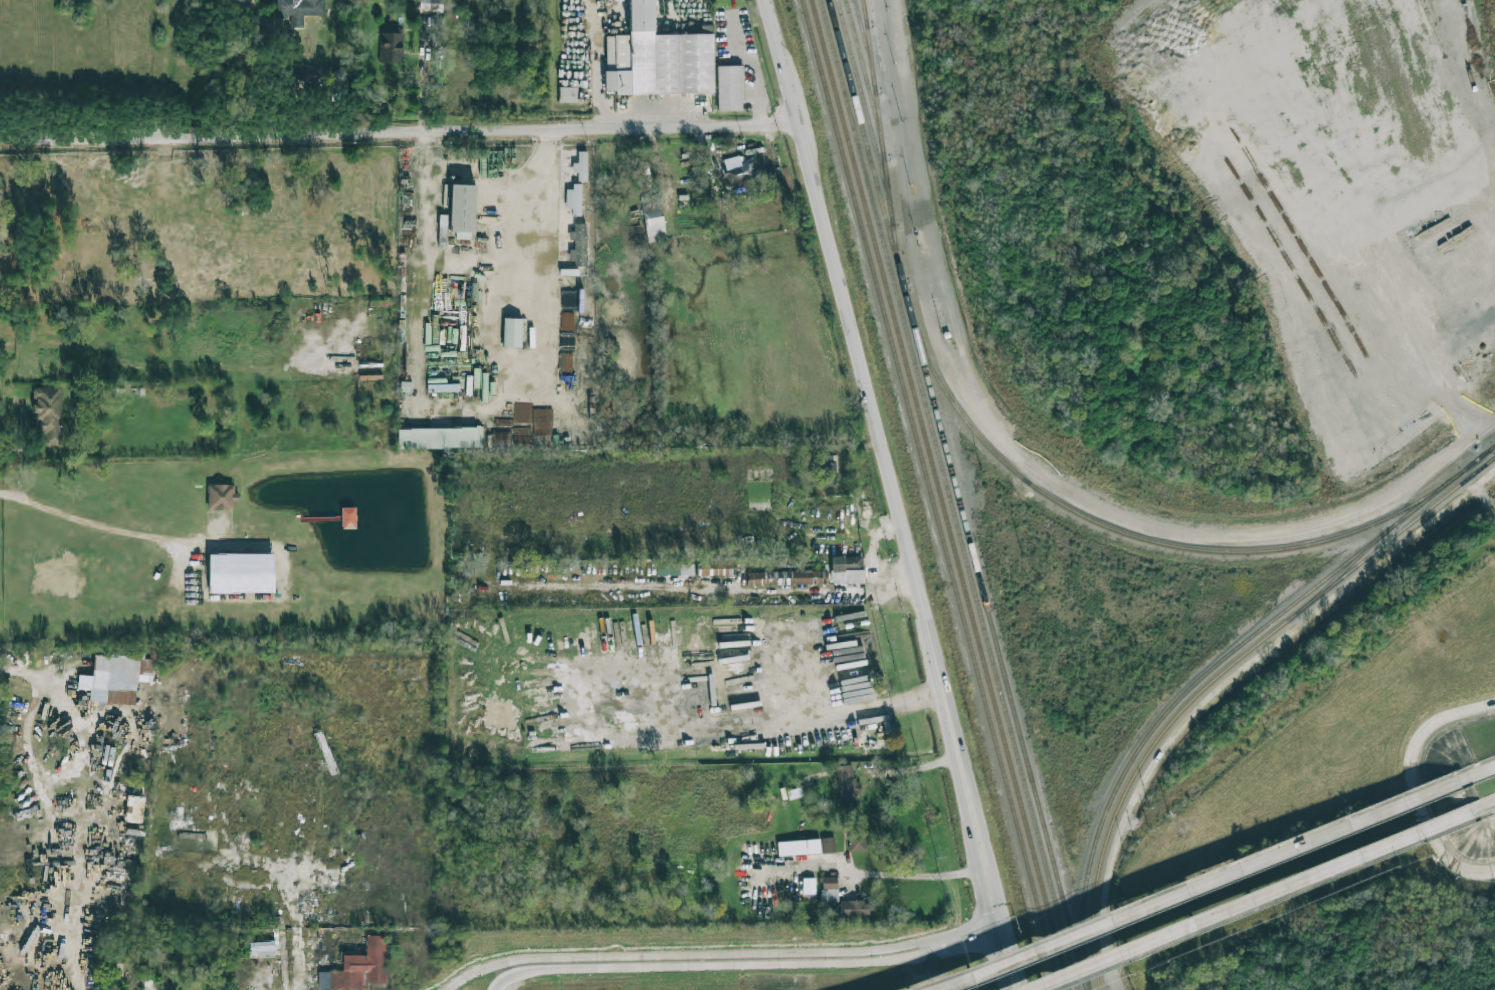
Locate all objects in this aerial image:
building: (431, 6)
building: (300, 10)
railway: (864, 21)
road: (744, 31)
railway: (864, 38)
building: (392, 47)
building: (658, 58)
road: (597, 82)
building: (729, 87)
railway: (868, 93)
railway: (877, 93)
building: (568, 94)
road: (399, 132)
railway: (877, 144)
building: (580, 165)
railway: (870, 165)
building: (739, 172)
building: (574, 199)
building: (464, 211)
road: (533, 215)
building: (649, 218)
building: (579, 243)
road: (427, 244)
building: (512, 332)
building: (50, 414)
building: (441, 438)
road: (1034, 469)
building: (828, 471)
road: (895, 494)
railway: (931, 494)
railway: (940, 494)
railway: (950, 494)
building: (223, 497)
road: (98, 525)
railway: (1142, 539)
road: (874, 557)
building: (716, 568)
building: (675, 569)
building: (847, 569)
building: (243, 573)
building: (785, 578)
railway: (1000, 660)
railway: (1212, 668)
building: (119, 678)
road: (48, 683)
road: (1228, 686)
road: (413, 707)
road: (677, 732)
road: (1492, 768)
road: (35, 776)
building: (847, 785)
road: (1420, 785)
building: (856, 837)
building: (828, 844)
building: (798, 847)
road: (873, 873)
road: (1210, 880)
building: (808, 885)
building: (829, 889)
road: (1263, 895)
building: (854, 908)
traffic signals: (1001, 910)
road: (99, 924)
traffic signals: (977, 942)
road: (964, 945)
traffic signals: (1012, 949)
building: (262, 950)
road: (724, 953)
road: (303, 964)
road: (707, 964)
building: (360, 968)

